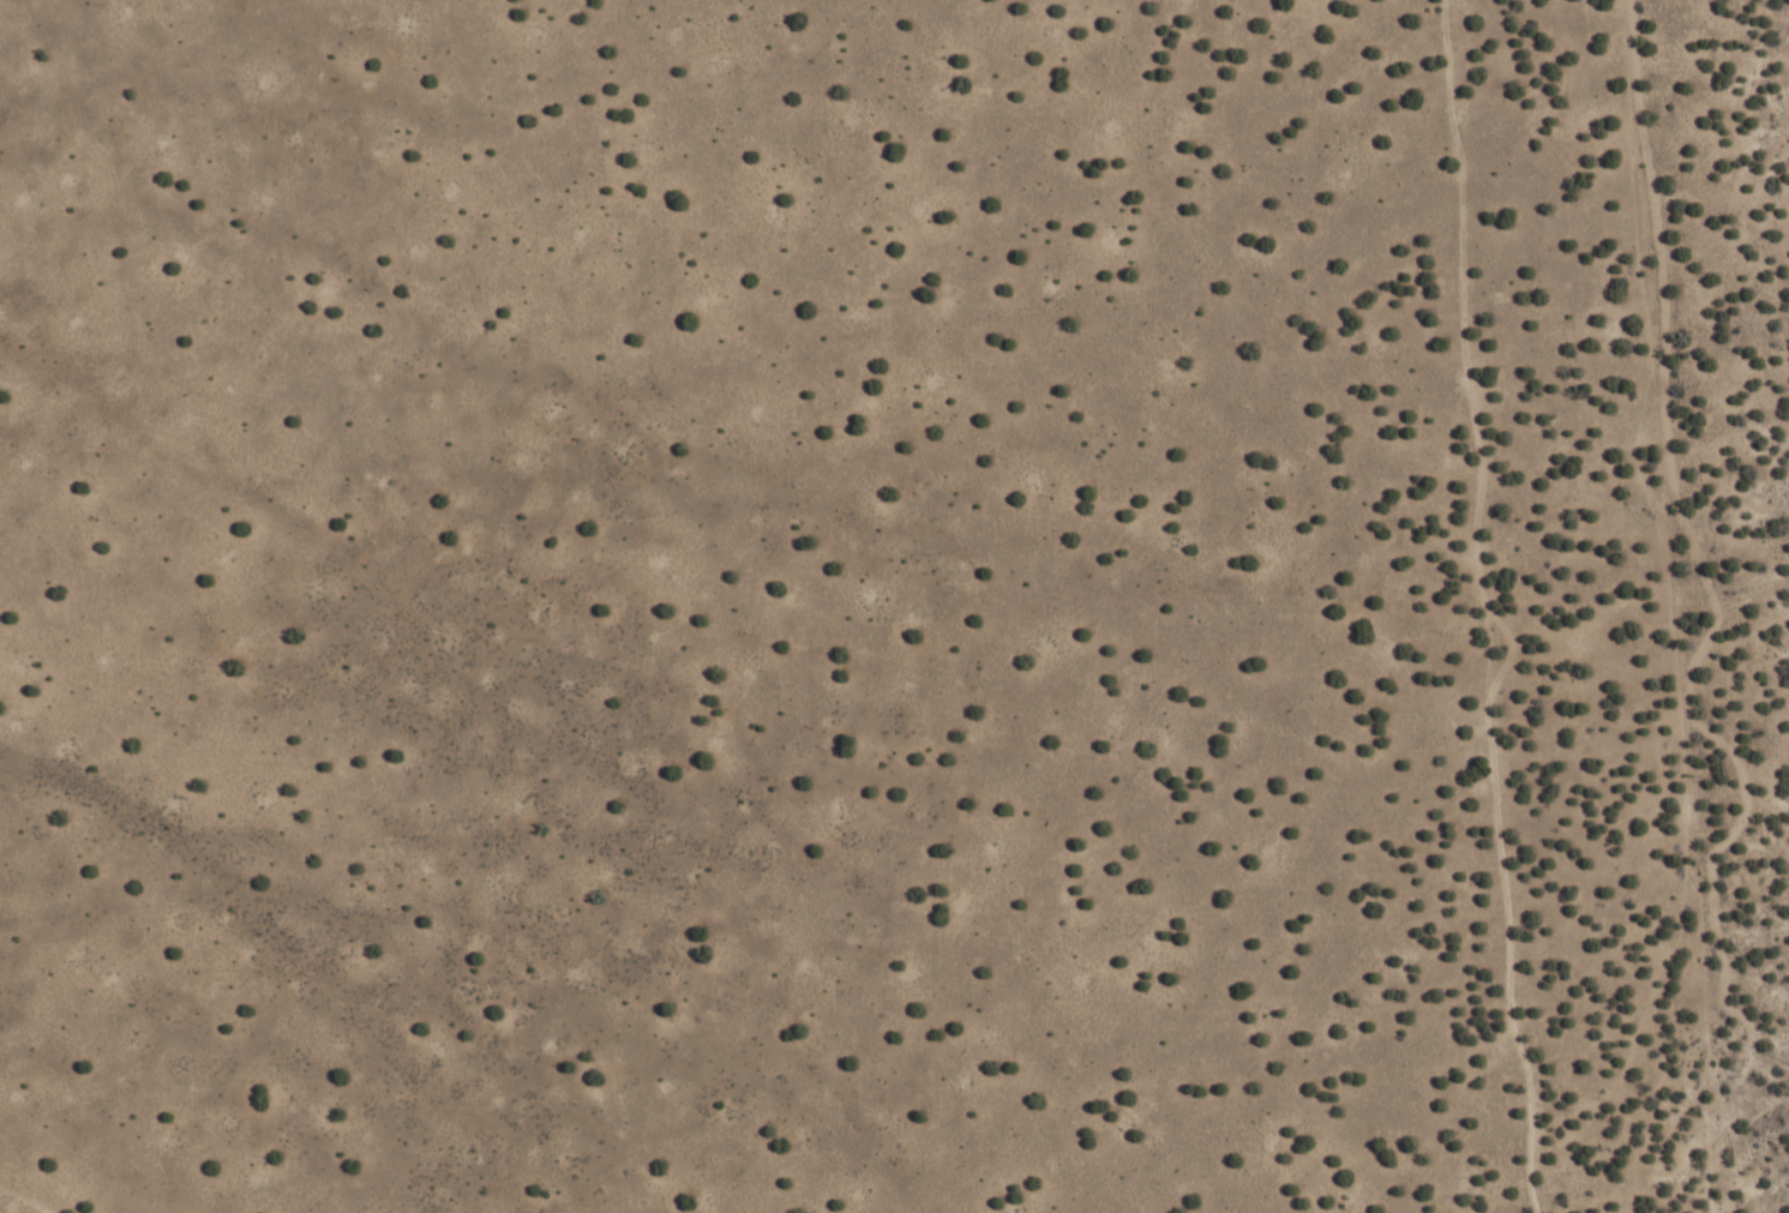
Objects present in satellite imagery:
road: (1447, 606)

